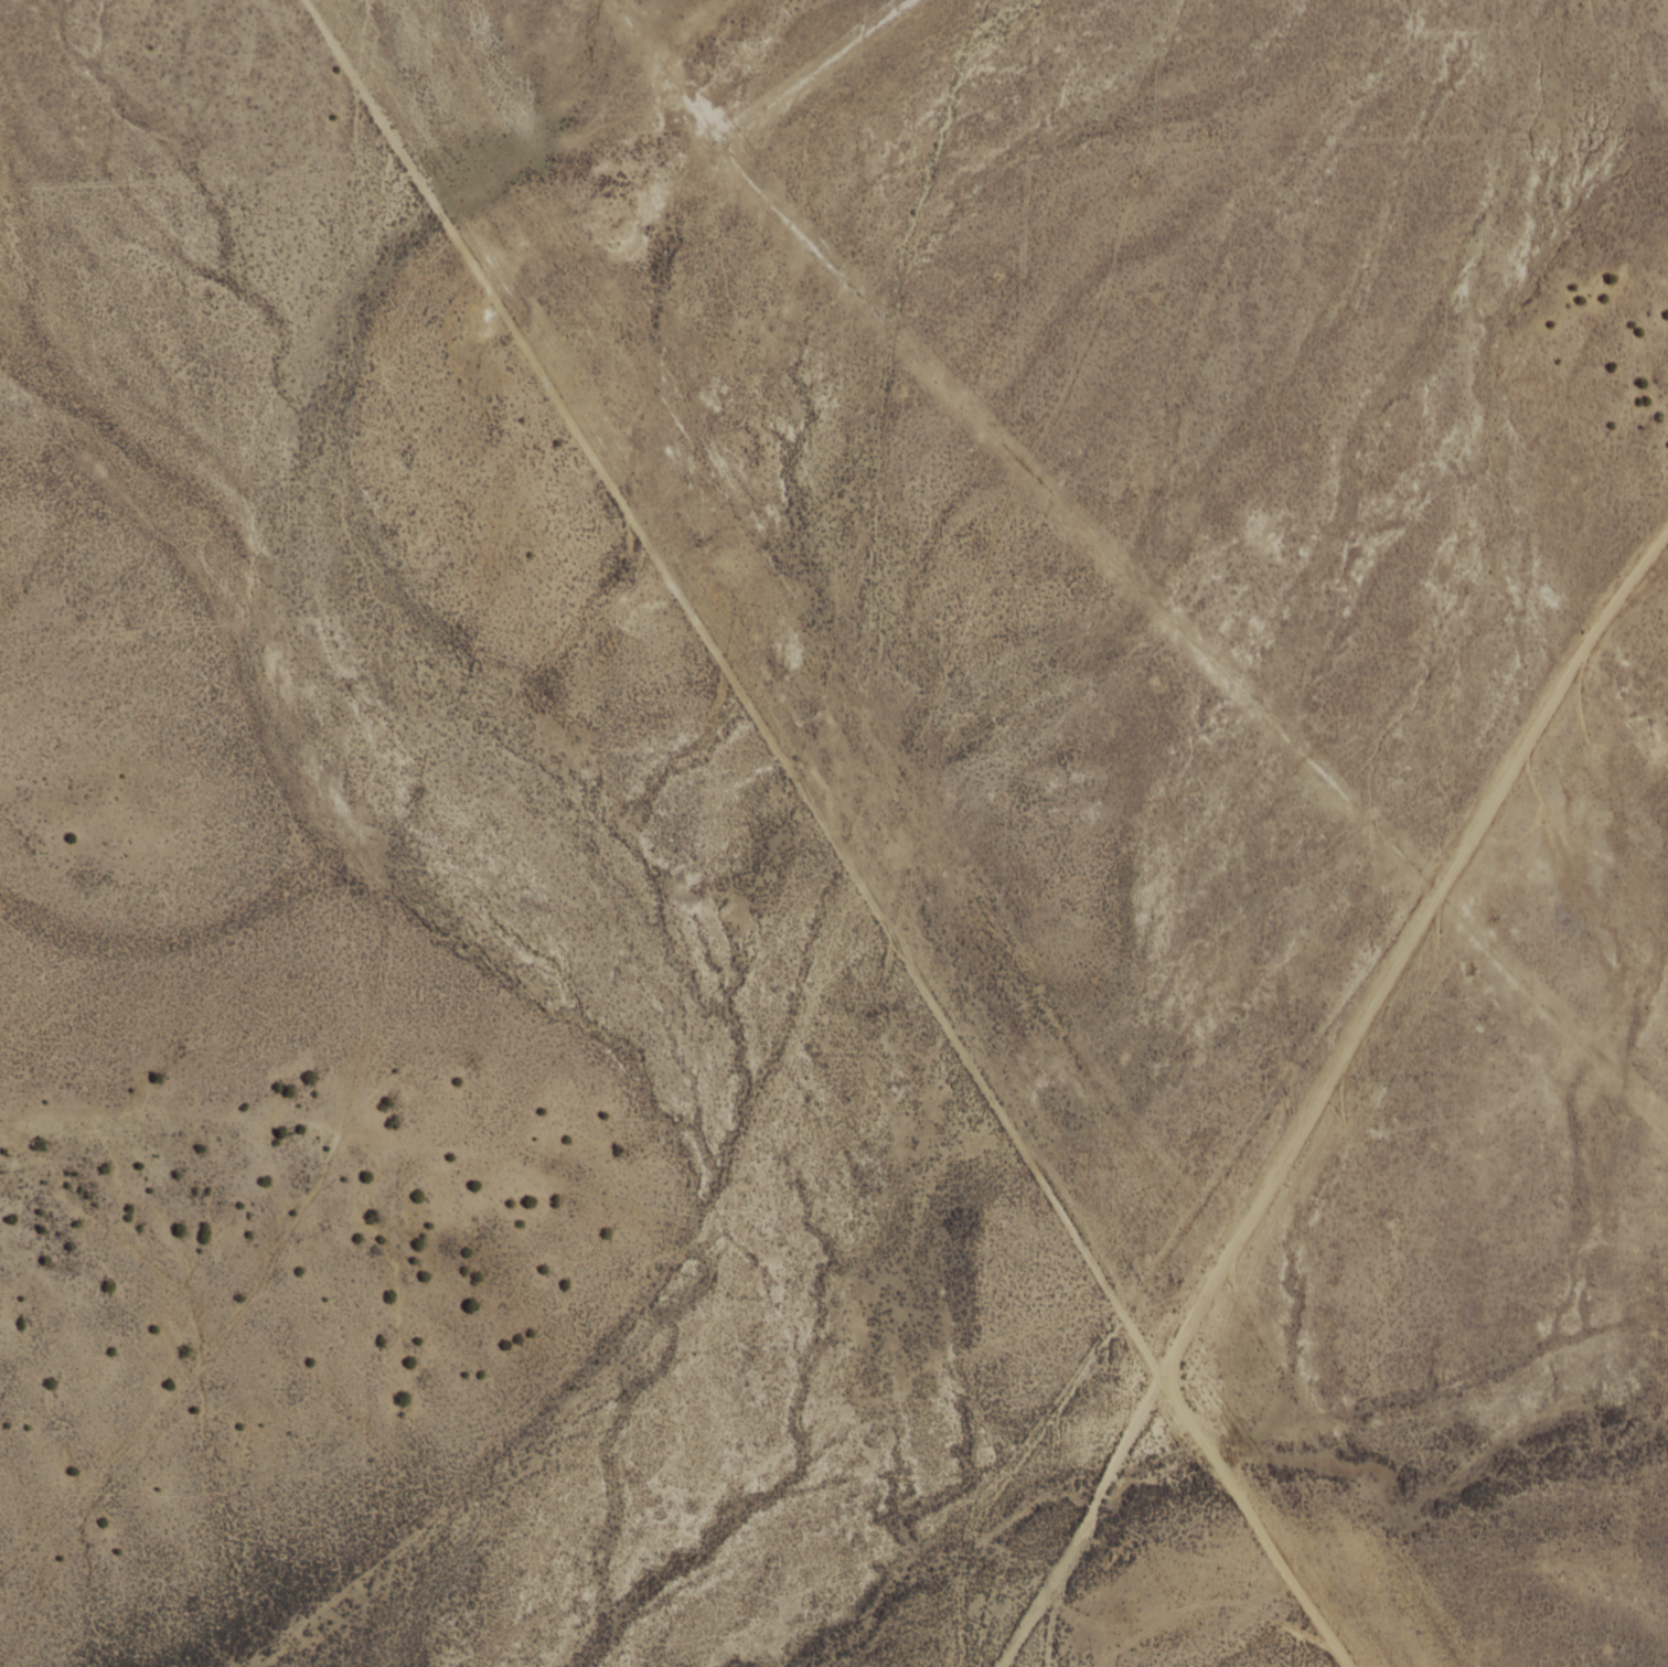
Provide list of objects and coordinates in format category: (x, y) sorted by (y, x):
road: (825, 834)
road: (1320, 1096)
river: (1221, 1457)

